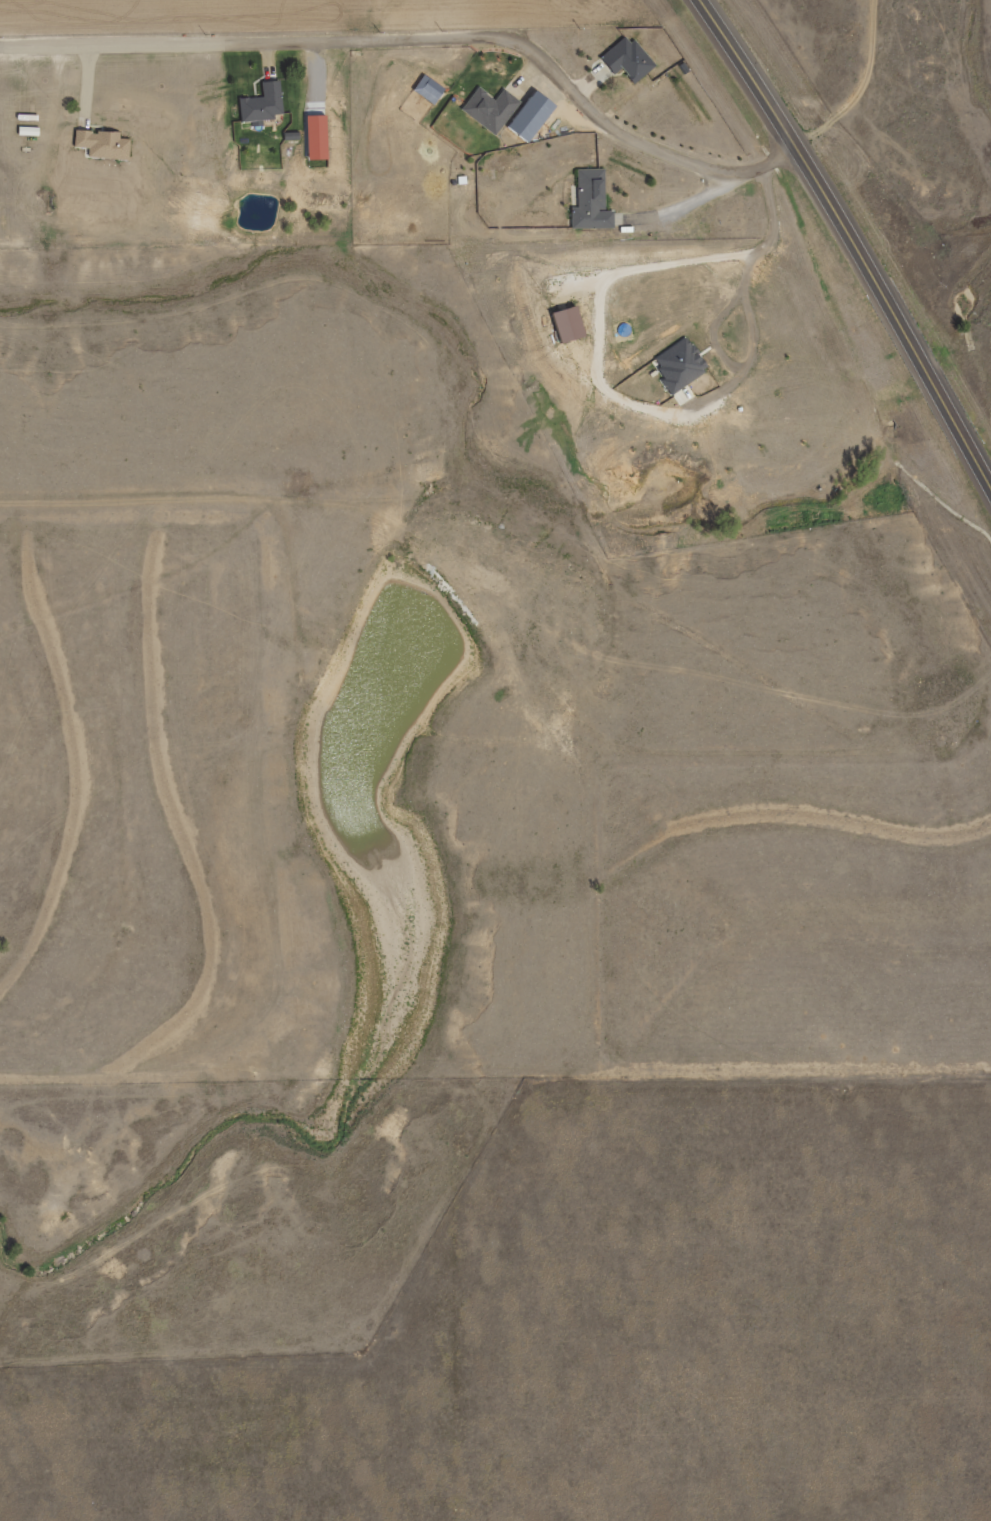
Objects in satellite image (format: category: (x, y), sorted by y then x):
road: (423, 40)
building: (625, 59)
building: (260, 105)
building: (487, 108)
building: (101, 145)
building: (588, 202)
road: (850, 244)

